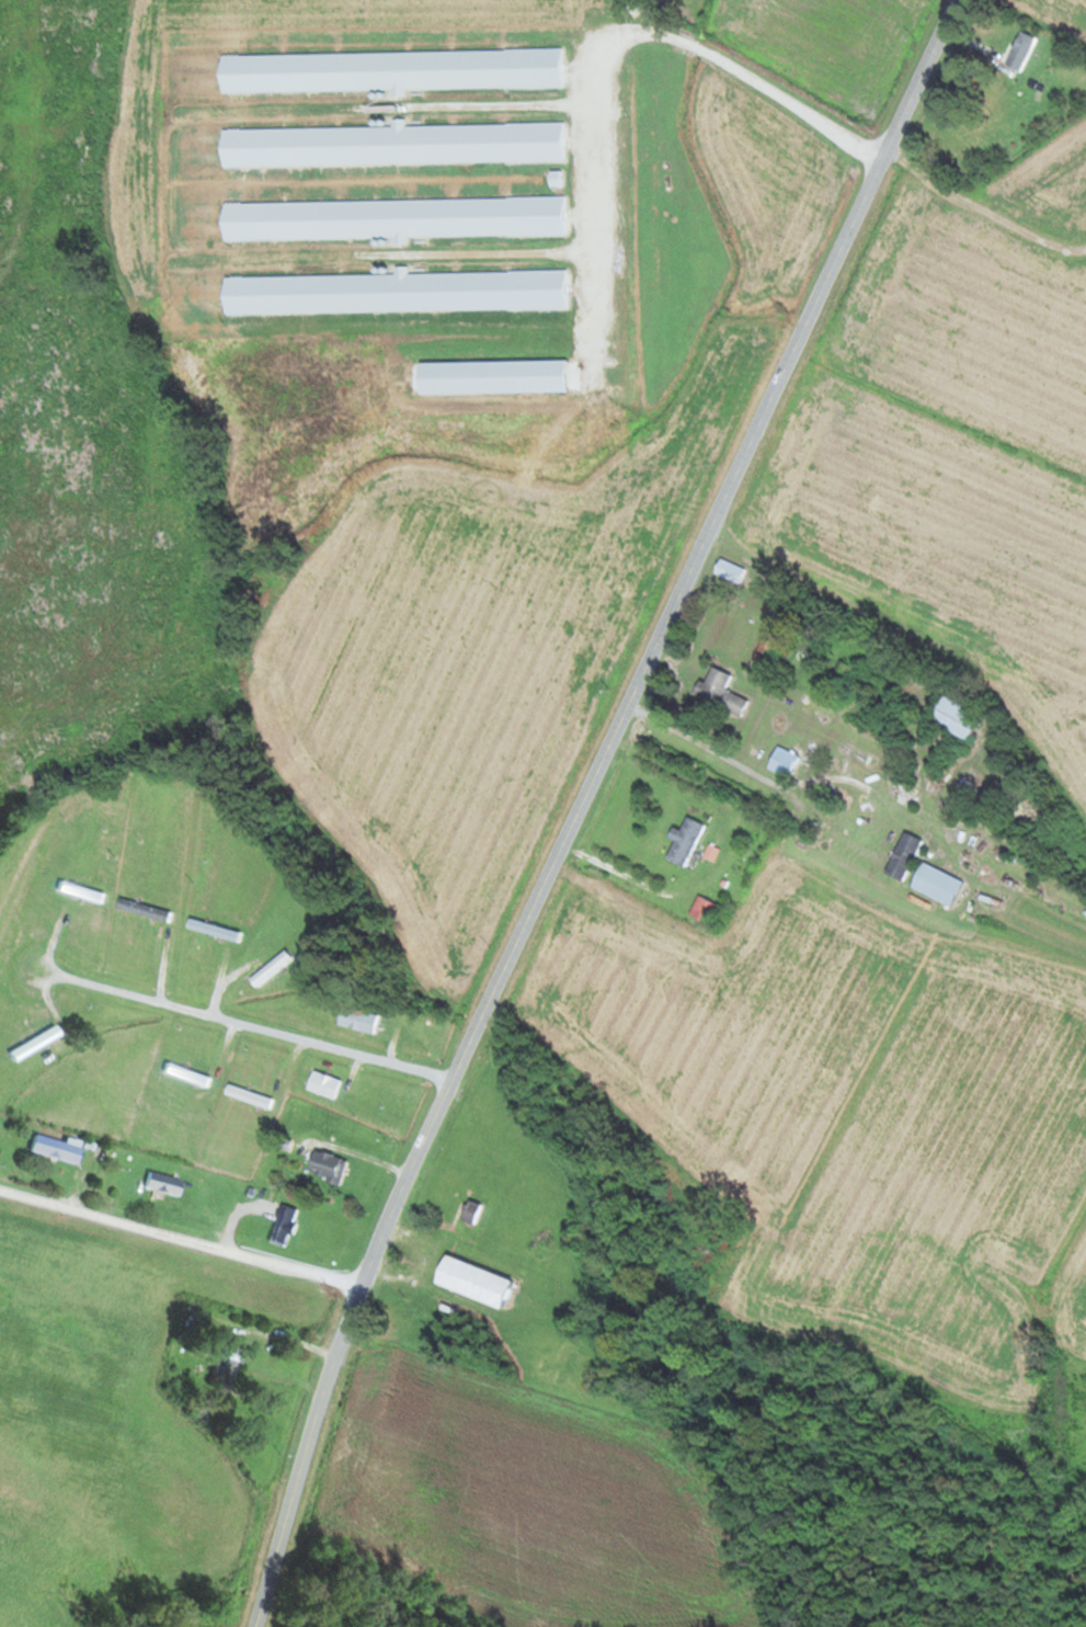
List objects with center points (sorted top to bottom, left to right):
building: (1017, 52)
building: (388, 70)
building: (390, 144)
road: (984, 204)
building: (388, 218)
building: (393, 292)
building: (487, 376)
building: (725, 570)
building: (842, 671)
building: (722, 699)
building: (892, 712)
building: (952, 717)
building: (779, 761)
road: (581, 804)
building: (683, 842)
building: (901, 856)
building: (1039, 858)
building: (929, 881)
building: (78, 891)
building: (140, 910)
building: (701, 910)
building: (209, 930)
building: (264, 968)
building: (354, 1020)
road: (254, 1025)
building: (31, 1043)
building: (183, 1074)
building: (320, 1084)
building: (247, 1096)
building: (50, 1149)
building: (160, 1184)
building: (468, 1211)
building: (279, 1226)
road: (180, 1235)
building: (468, 1282)
road: (472, 1287)
building: (222, 1364)

